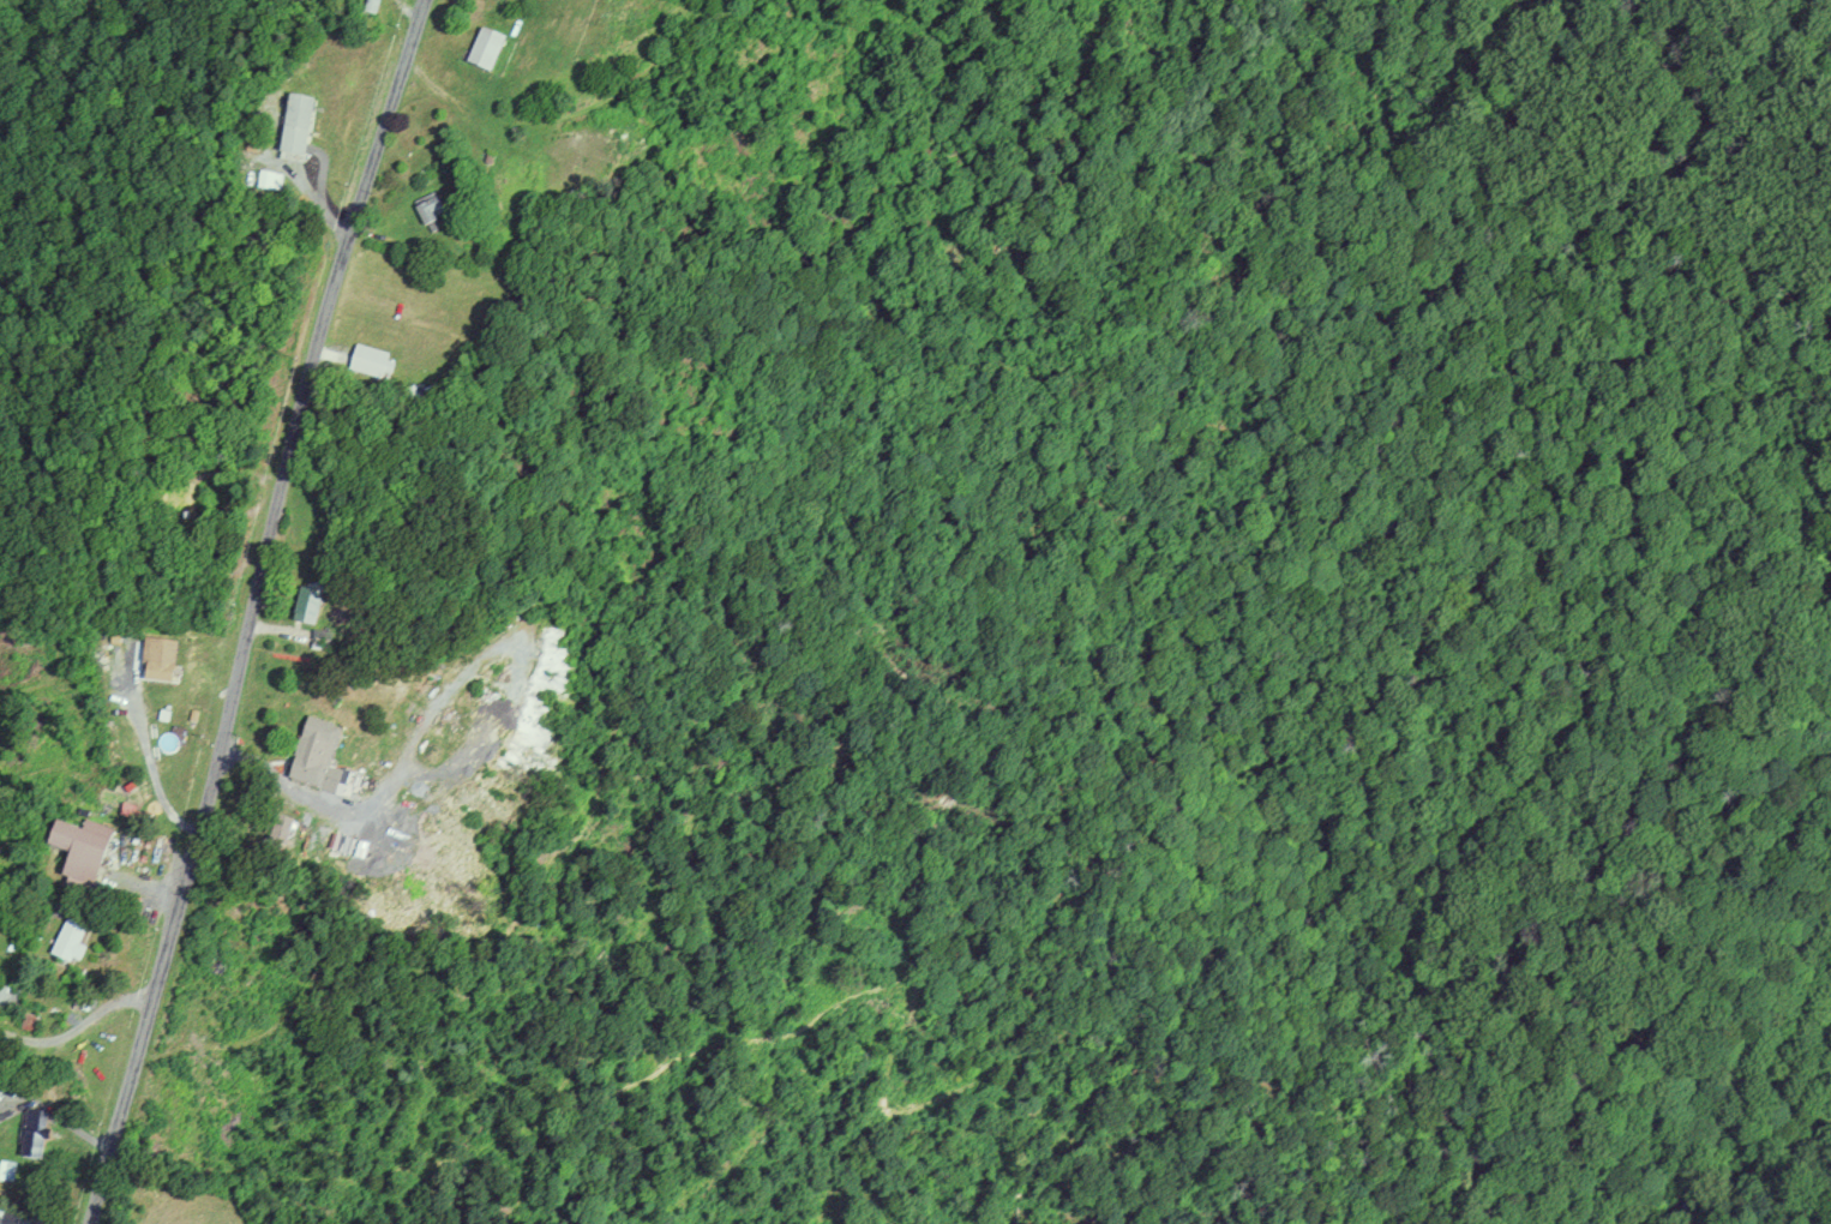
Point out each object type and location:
building: (487, 48)
building: (296, 125)
building: (431, 210)
building: (372, 361)
building: (308, 601)
road: (253, 611)
building: (161, 661)
building: (316, 752)
building: (82, 852)
building: (70, 942)
building: (10, 998)
building: (34, 1133)
building: (6, 1170)

